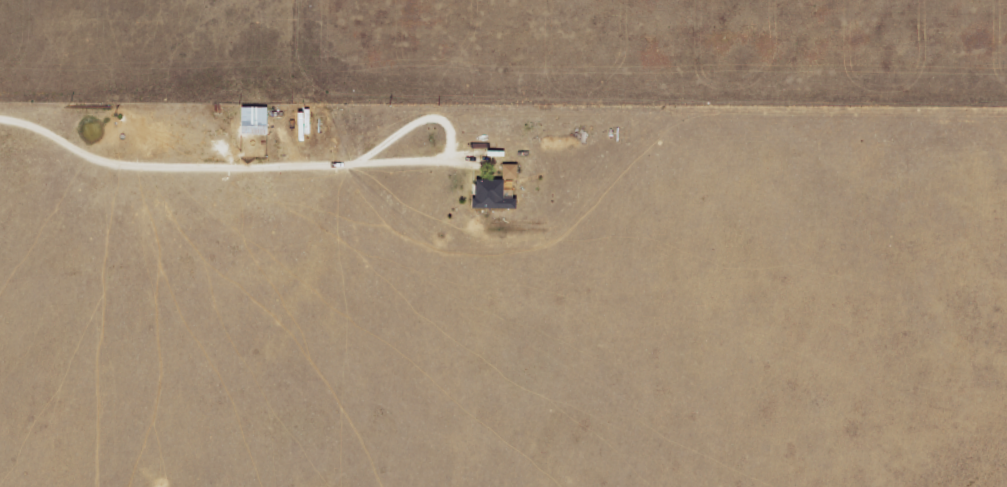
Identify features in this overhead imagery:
building: (253, 120)

